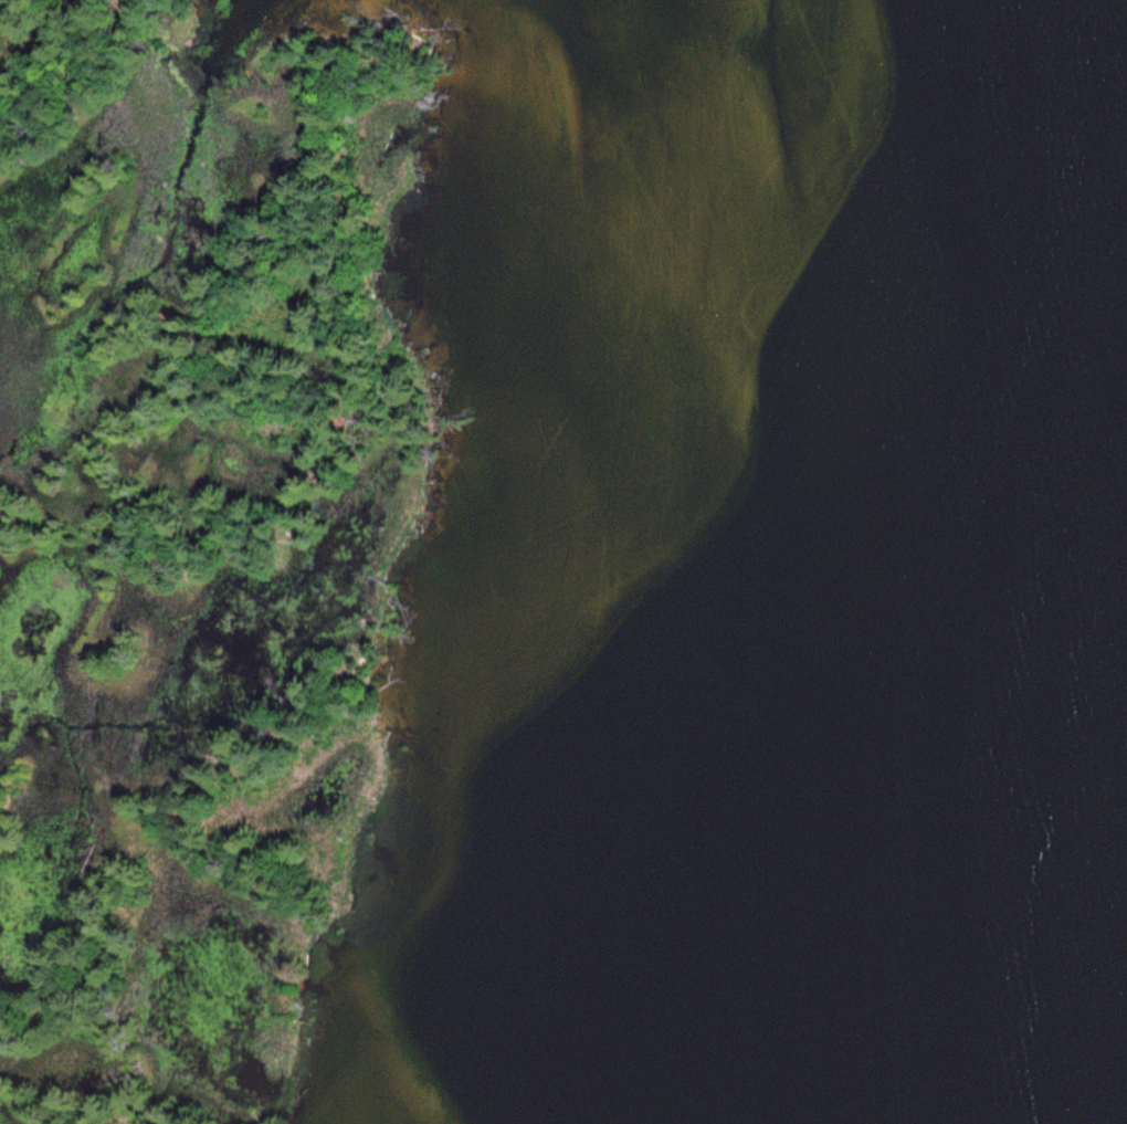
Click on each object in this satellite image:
park: (198, 540)

